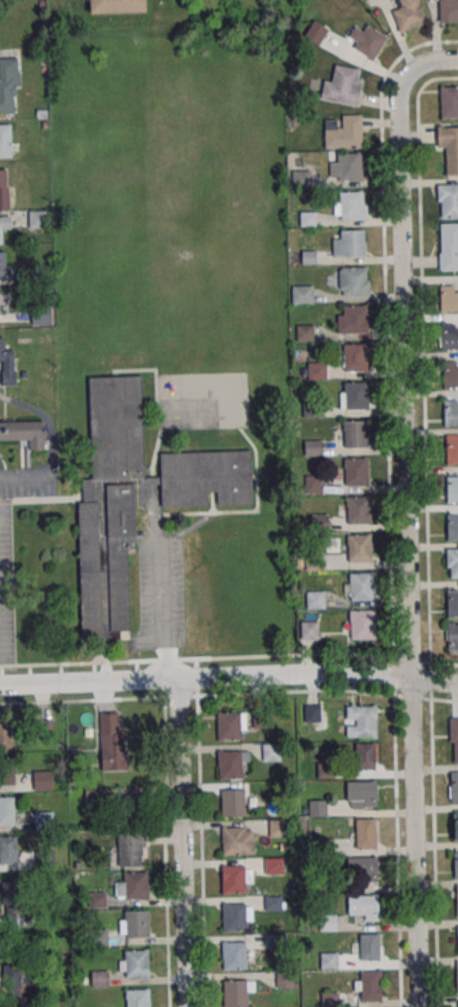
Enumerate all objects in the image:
building: (116, 6)
building: (448, 11)
building: (408, 14)
building: (359, 42)
building: (8, 83)
building: (342, 85)
building: (449, 102)
building: (343, 132)
building: (5, 141)
building: (449, 147)
building: (349, 166)
building: (3, 188)
building: (448, 200)
building: (351, 205)
building: (38, 219)
building: (4, 225)
building: (352, 243)
building: (448, 246)
building: (5, 270)
building: (354, 280)
building: (302, 294)
building: (448, 298)
building: (40, 317)
building: (354, 318)
building: (305, 333)
building: (449, 336)
building: (355, 357)
building: (7, 365)
building: (316, 370)
building: (450, 374)
building: (356, 395)
building: (450, 412)
road: (48, 421)
building: (23, 432)
building: (355, 433)
building: (312, 448)
building: (452, 450)
building: (356, 471)
road: (24, 478)
building: (313, 483)
building: (452, 488)
building: (135, 498)
building: (358, 509)
road: (406, 513)
building: (452, 527)
building: (359, 548)
building: (451, 563)
building: (361, 586)
parking lot: (160, 591)
road: (160, 597)
building: (316, 599)
building: (452, 603)
building: (362, 624)
building: (310, 630)
building: (452, 635)
road: (229, 656)
road: (229, 676)
road: (327, 690)
building: (312, 713)
building: (364, 721)
building: (229, 726)
building: (6, 735)
building: (454, 736)
building: (112, 741)
building: (271, 751)
building: (365, 755)
building: (230, 764)
building: (325, 769)
building: (7, 771)
building: (42, 780)
building: (454, 788)
building: (361, 794)
building: (232, 801)
building: (132, 808)
building: (318, 808)
building: (7, 810)
building: (44, 820)
building: (456, 824)
building: (278, 828)
building: (366, 833)
building: (233, 841)
road: (182, 843)
building: (8, 849)
road: (201, 851)
building: (129, 852)
building: (46, 859)
building: (456, 864)
building: (274, 866)
building: (362, 870)
building: (234, 879)
building: (136, 886)
building: (10, 895)
building: (457, 899)
building: (272, 902)
building: (363, 907)
building: (234, 916)
building: (327, 922)
building: (136, 923)
road: (167, 926)
building: (457, 938)
building: (367, 947)
building: (235, 956)
building: (329, 960)
building: (136, 963)
building: (457, 975)
building: (99, 978)
building: (16, 980)
building: (369, 985)
building: (235, 993)
building: (137, 997)
building: (330, 999)

